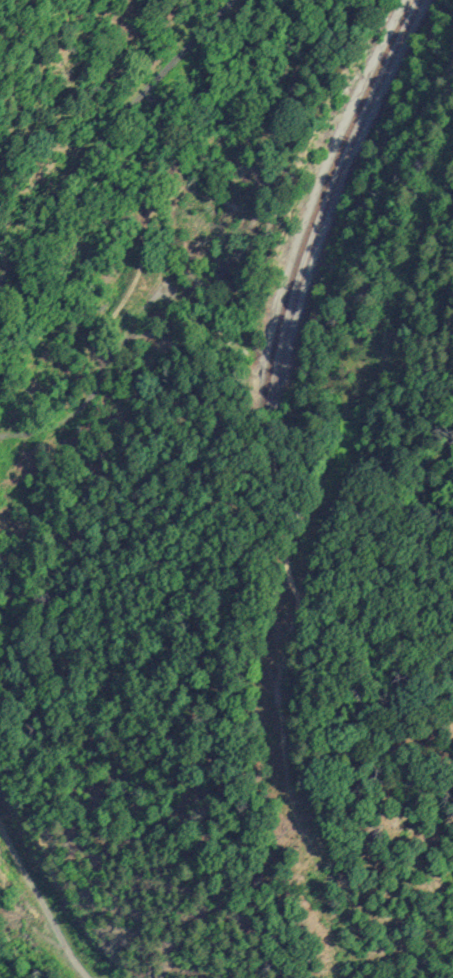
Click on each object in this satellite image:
road: (105, 133)
railway: (319, 198)
railway: (329, 200)
road: (39, 904)

